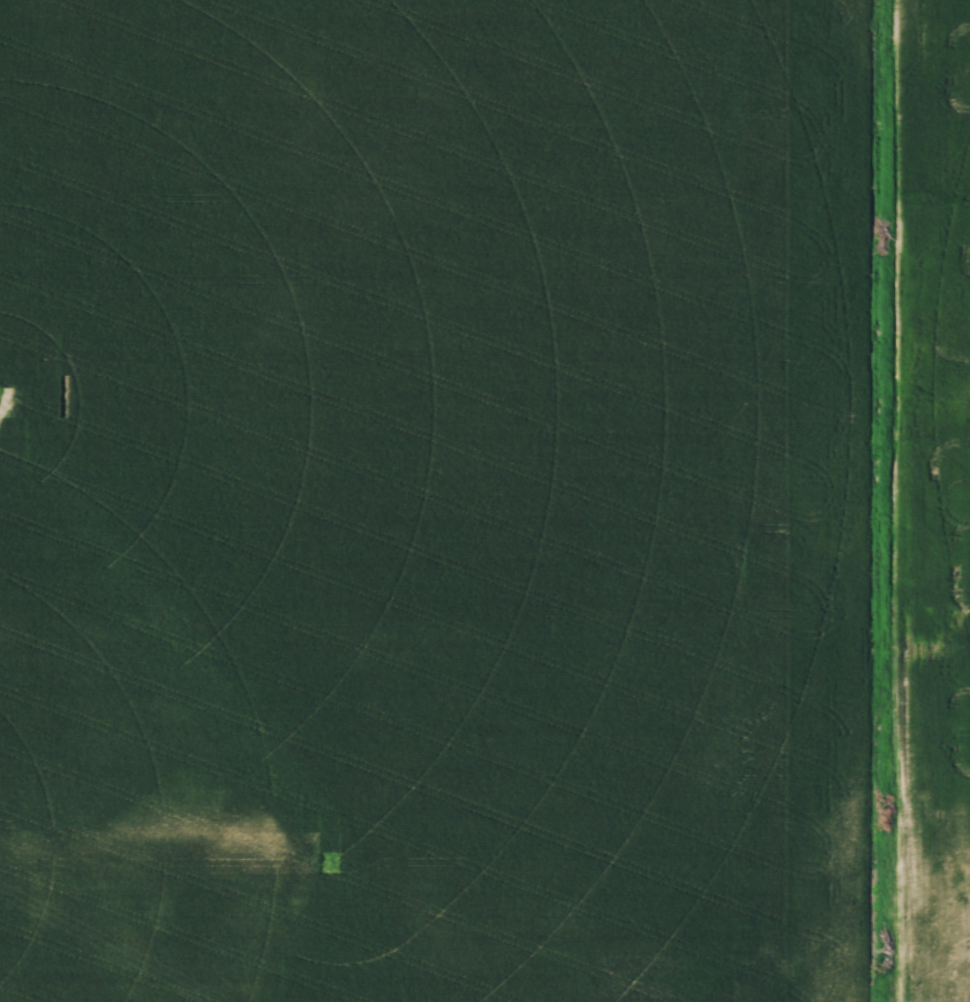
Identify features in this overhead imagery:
road: (896, 501)

